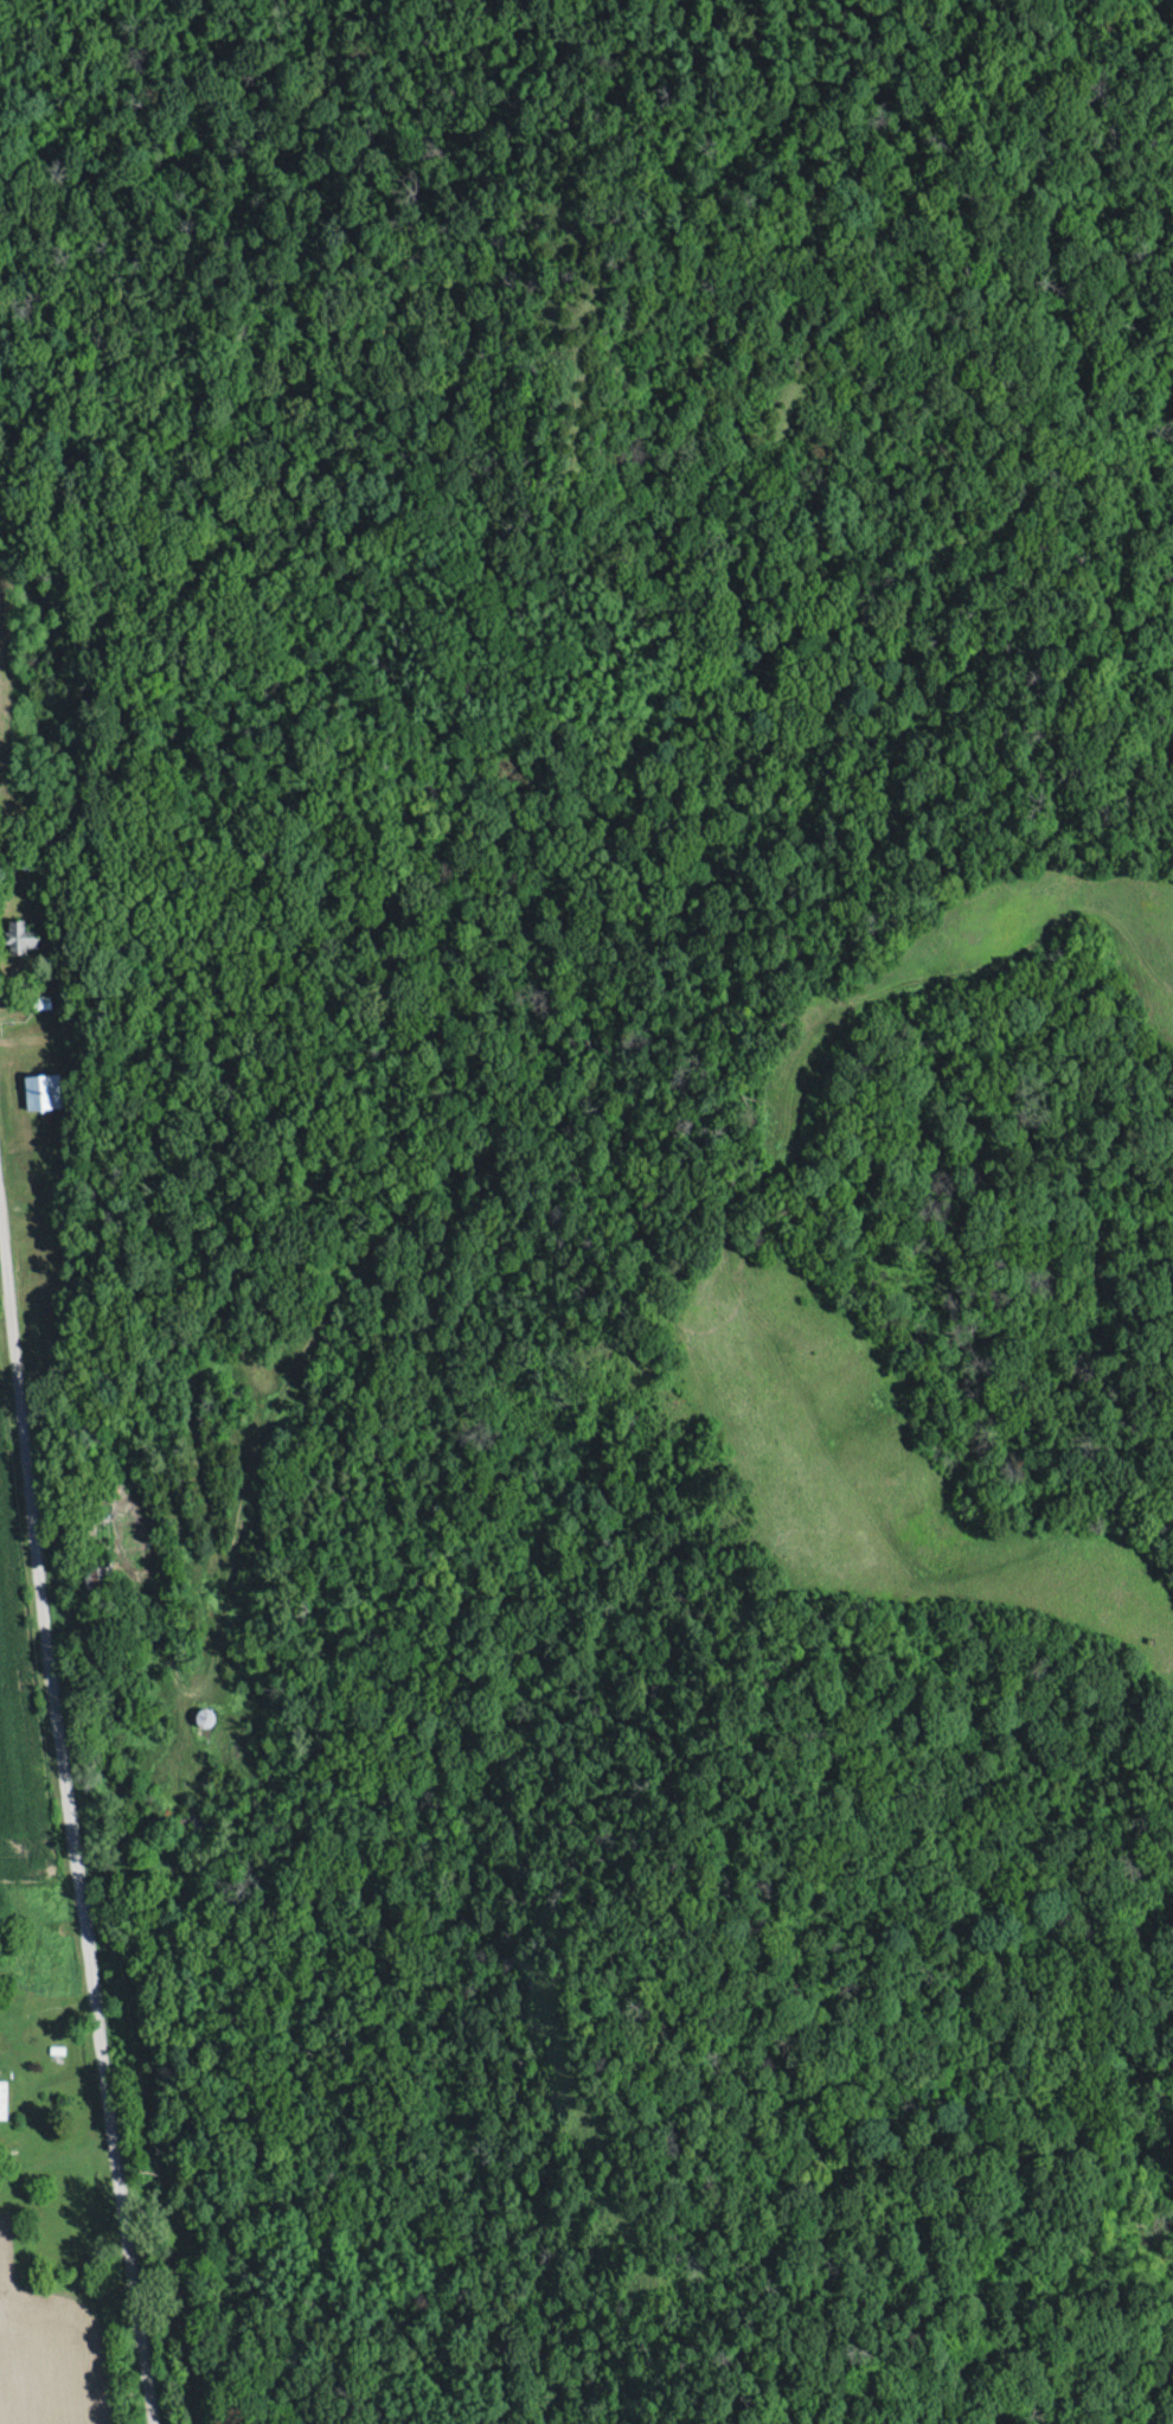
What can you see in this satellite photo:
building: (20, 933)
building: (43, 1088)
building: (41, 1166)
road: (71, 1345)
building: (198, 1714)

